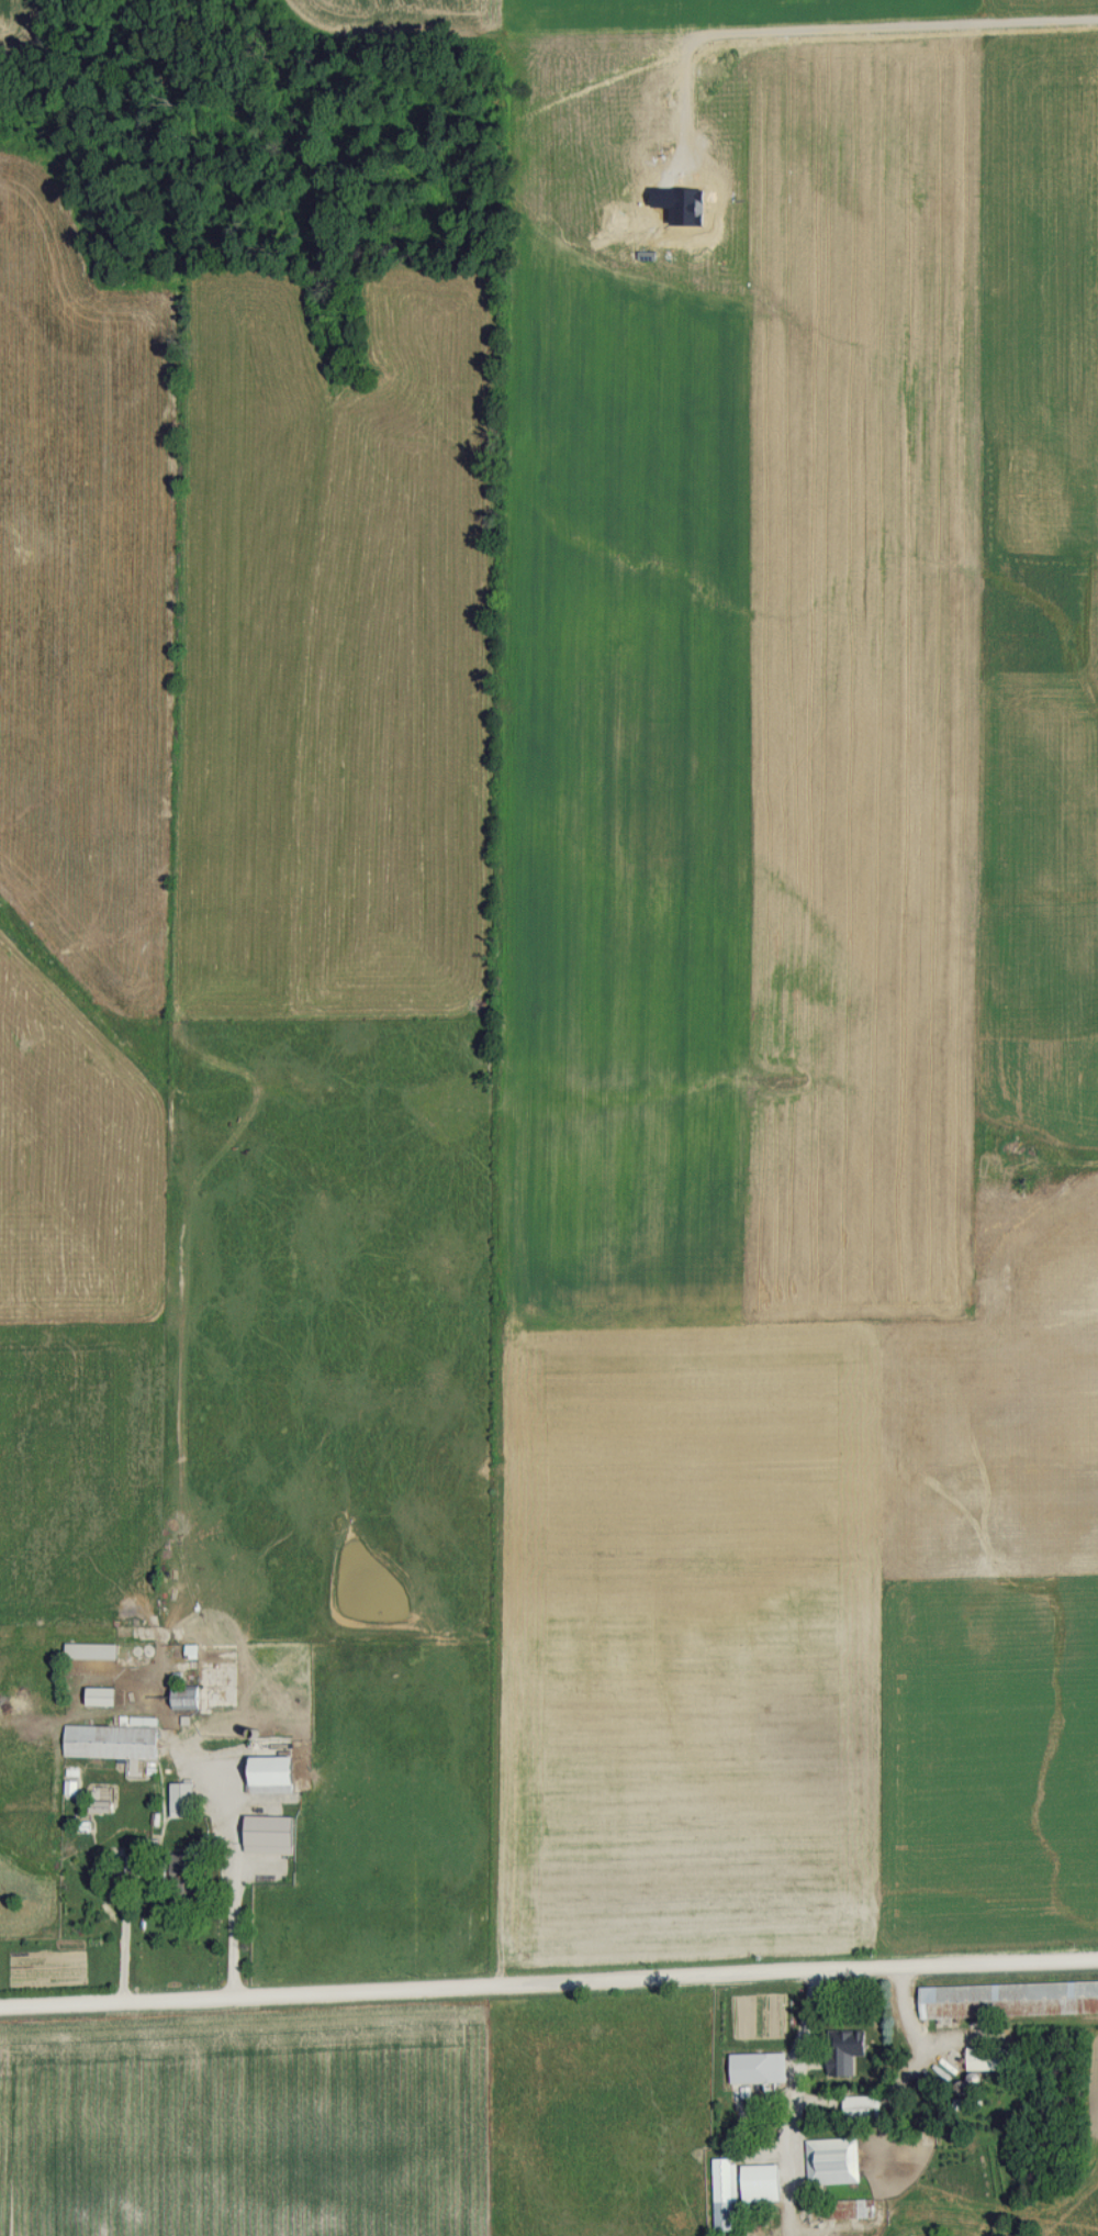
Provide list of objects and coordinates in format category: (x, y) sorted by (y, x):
building: (1018, 1159)
building: (92, 1650)
building: (192, 1651)
building: (103, 1697)
building: (187, 1697)
building: (112, 1742)
building: (274, 1776)
building: (182, 1800)
building: (270, 1831)
road: (234, 1878)
road: (122, 1936)
road: (549, 1992)
building: (1008, 1999)
road: (907, 2011)
building: (853, 2040)
building: (991, 2057)
building: (765, 2067)
road: (795, 2104)
building: (863, 2106)
building: (834, 2160)
building: (761, 2183)
building: (722, 2194)
building: (850, 2209)

